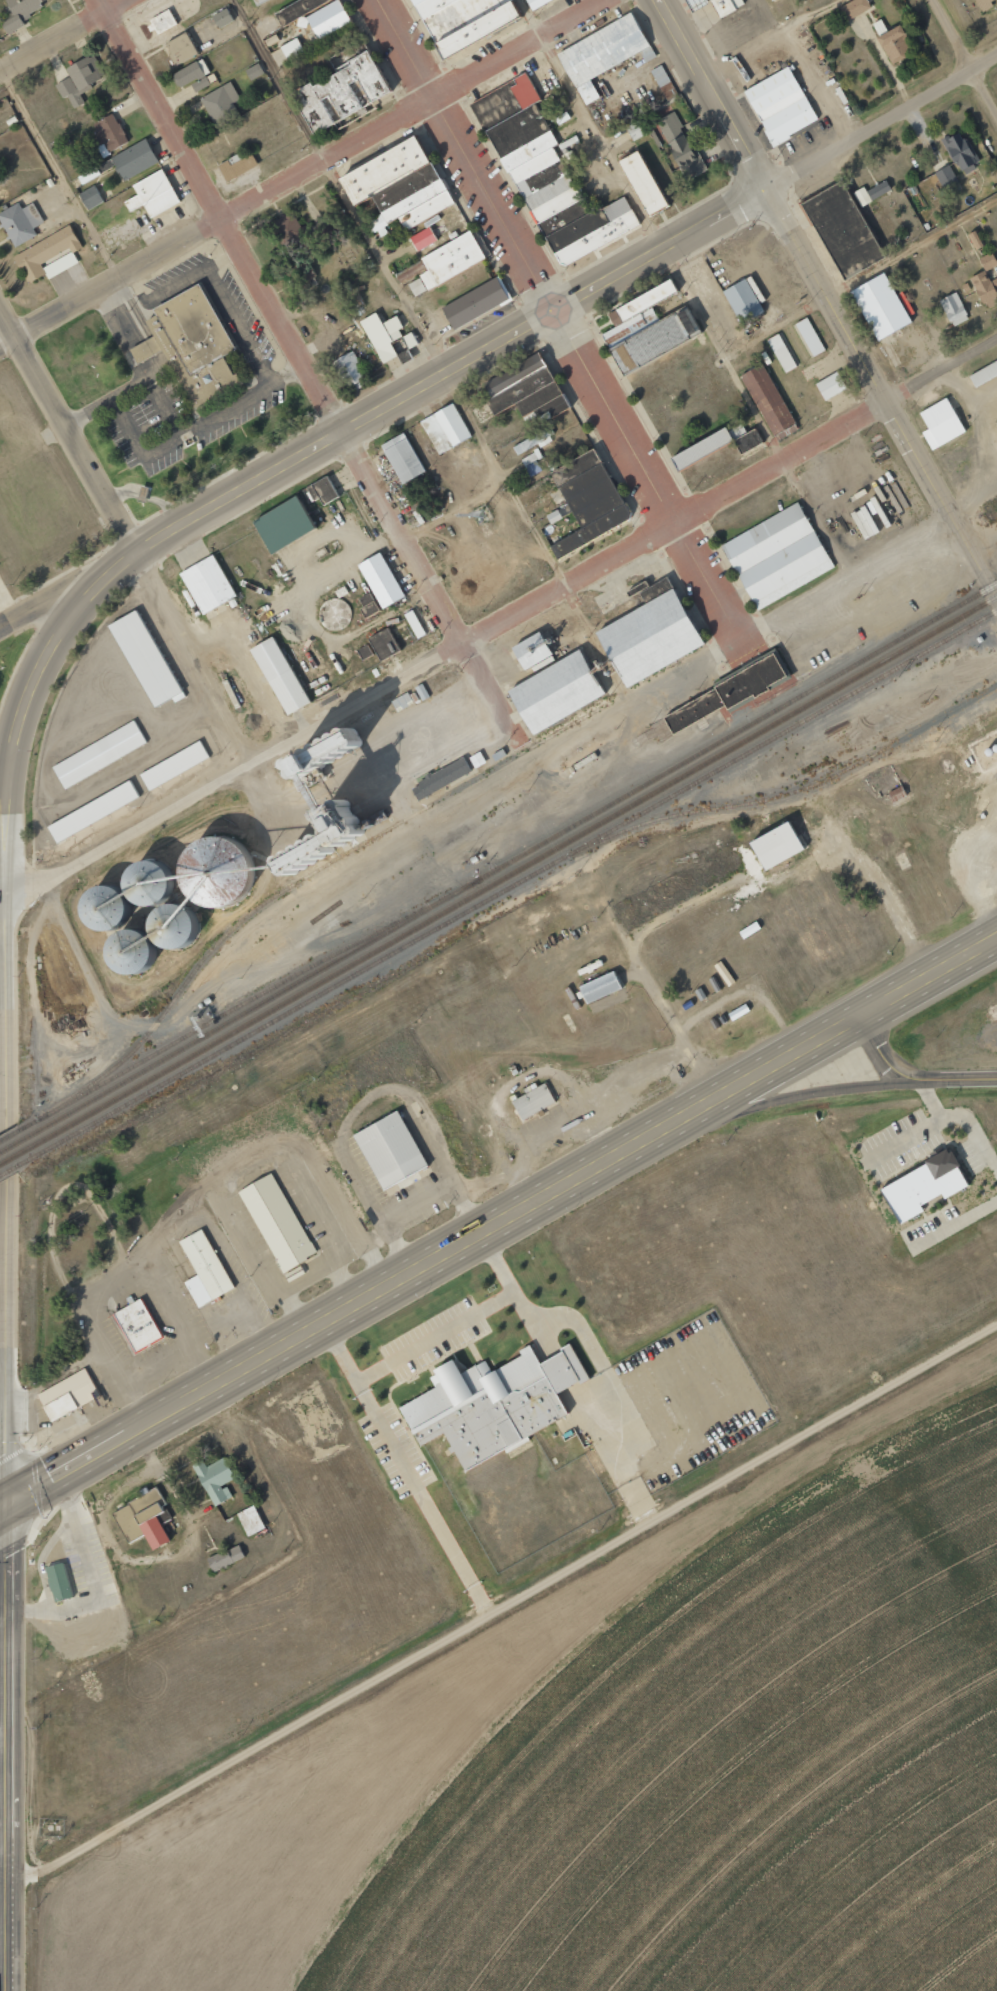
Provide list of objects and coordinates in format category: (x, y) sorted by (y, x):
building: (259, 1)
building: (725, 2)
building: (535, 3)
building: (695, 3)
building: (854, 8)
building: (297, 10)
building: (20, 12)
building: (222, 18)
building: (328, 19)
building: (463, 21)
building: (161, 22)
road: (61, 35)
road: (764, 36)
building: (605, 44)
building: (894, 45)
building: (180, 48)
building: (291, 49)
road: (516, 50)
road: (964, 54)
building: (253, 71)
building: (192, 75)
building: (660, 75)
building: (80, 79)
building: (341, 92)
road: (713, 93)
building: (780, 94)
building: (221, 104)
road: (882, 120)
building: (635, 130)
building: (109, 132)
building: (684, 136)
building: (960, 152)
building: (134, 159)
building: (237, 164)
building: (645, 168)
road: (58, 175)
building: (547, 176)
building: (642, 183)
building: (397, 186)
building: (930, 186)
building: (871, 192)
building: (153, 194)
building: (90, 197)
building: (843, 216)
building: (20, 222)
road: (214, 222)
building: (288, 228)
road: (658, 229)
road: (911, 237)
building: (423, 238)
building: (976, 239)
road: (662, 247)
building: (448, 252)
building: (48, 256)
building: (987, 261)
building: (309, 280)
building: (648, 287)
building: (985, 289)
building: (476, 293)
road: (400, 294)
building: (881, 294)
building: (743, 301)
building: (953, 309)
road: (560, 317)
building: (657, 325)
building: (193, 336)
building: (395, 340)
building: (781, 353)
road: (309, 371)
building: (351, 371)
building: (830, 386)
road: (882, 393)
building: (527, 395)
building: (767, 399)
building: (996, 423)
building: (940, 424)
building: (445, 428)
road: (69, 429)
road: (348, 430)
road: (834, 431)
building: (702, 434)
building: (534, 441)
building: (747, 441)
building: (700, 449)
building: (402, 458)
building: (531, 461)
road: (490, 474)
building: (322, 490)
road: (500, 496)
building: (588, 500)
road: (441, 511)
building: (282, 525)
building: (777, 556)
building: (381, 569)
building: (209, 573)
road: (69, 588)
building: (367, 605)
building: (652, 623)
building: (414, 624)
building: (383, 645)
building: (146, 647)
building: (364, 652)
building: (533, 654)
park: (12, 661)
road: (50, 662)
building: (279, 676)
building: (559, 678)
building: (729, 679)
building: (725, 695)
building: (401, 702)
road: (336, 718)
building: (99, 744)
building: (174, 755)
building: (440, 779)
road: (6, 790)
railway: (790, 793)
building: (94, 800)
building: (92, 812)
building: (779, 829)
building: (322, 837)
building: (776, 845)
road: (10, 854)
railway: (511, 861)
railway: (511, 873)
railway: (300, 881)
railway: (510, 886)
building: (162, 900)
building: (601, 974)
building: (599, 987)
road: (10, 995)
railway: (228, 1011)
road: (851, 1022)
road: (887, 1057)
road: (961, 1080)
building: (534, 1089)
road: (815, 1093)
building: (532, 1101)
railway: (15, 1133)
building: (389, 1136)
railway: (12, 1146)
railway: (13, 1157)
railway: (12, 1169)
building: (922, 1177)
building: (277, 1214)
park: (98, 1228)
building: (207, 1253)
building: (198, 1280)
road: (4, 1295)
road: (354, 1307)
building: (139, 1313)
road: (343, 1353)
building: (67, 1385)
building: (494, 1388)
building: (216, 1467)
road: (415, 1480)
road: (1, 1506)
traffic signals: (3, 1506)
building: (146, 1506)
building: (251, 1510)
building: (228, 1547)
building: (225, 1558)
building: (59, 1568)
building: (58, 1582)
road: (478, 1591)
road: (500, 1596)
road: (4, 1748)

